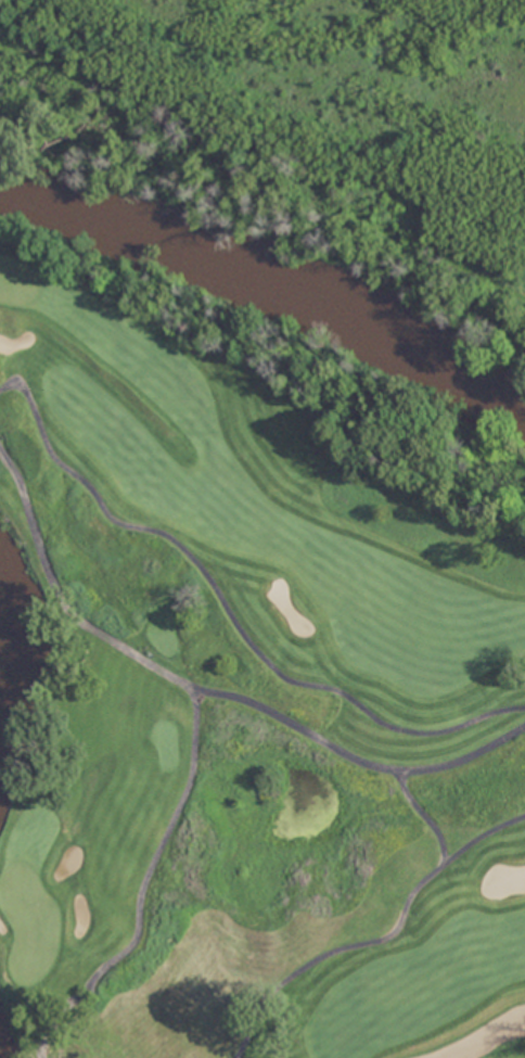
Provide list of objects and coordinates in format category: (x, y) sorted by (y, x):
park: (16, 282)
river: (259, 296)
park: (262, 528)
road: (223, 621)
park: (164, 627)
road: (191, 737)
road: (349, 761)
park: (33, 836)
road: (478, 836)
park: (30, 922)
park: (3, 927)
road: (382, 941)
road: (229, 1057)

